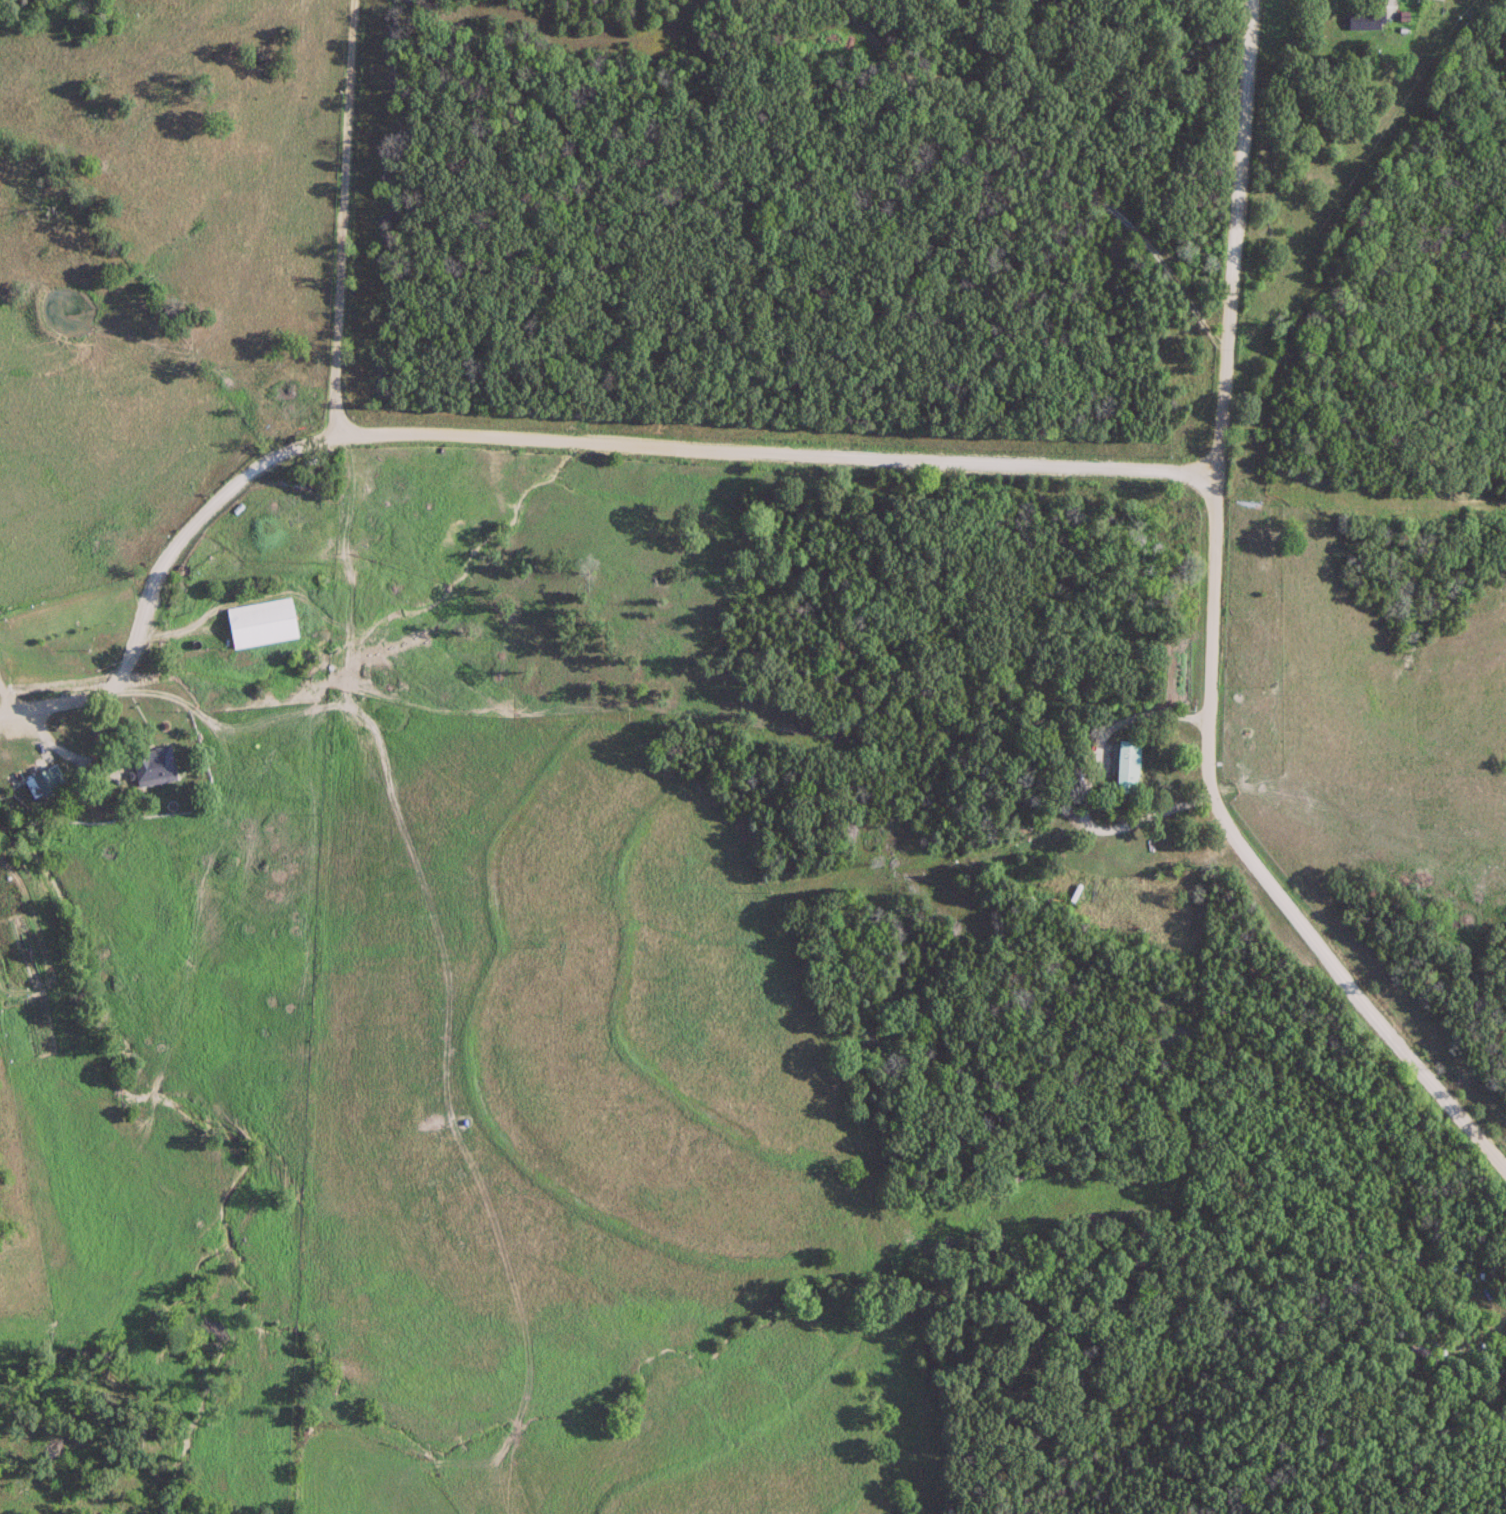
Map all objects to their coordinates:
building: (1360, 21)
road: (339, 213)
building: (1166, 351)
road: (537, 440)
building: (264, 623)
road: (1209, 638)
building: (1128, 765)
building: (154, 766)
building: (42, 784)

